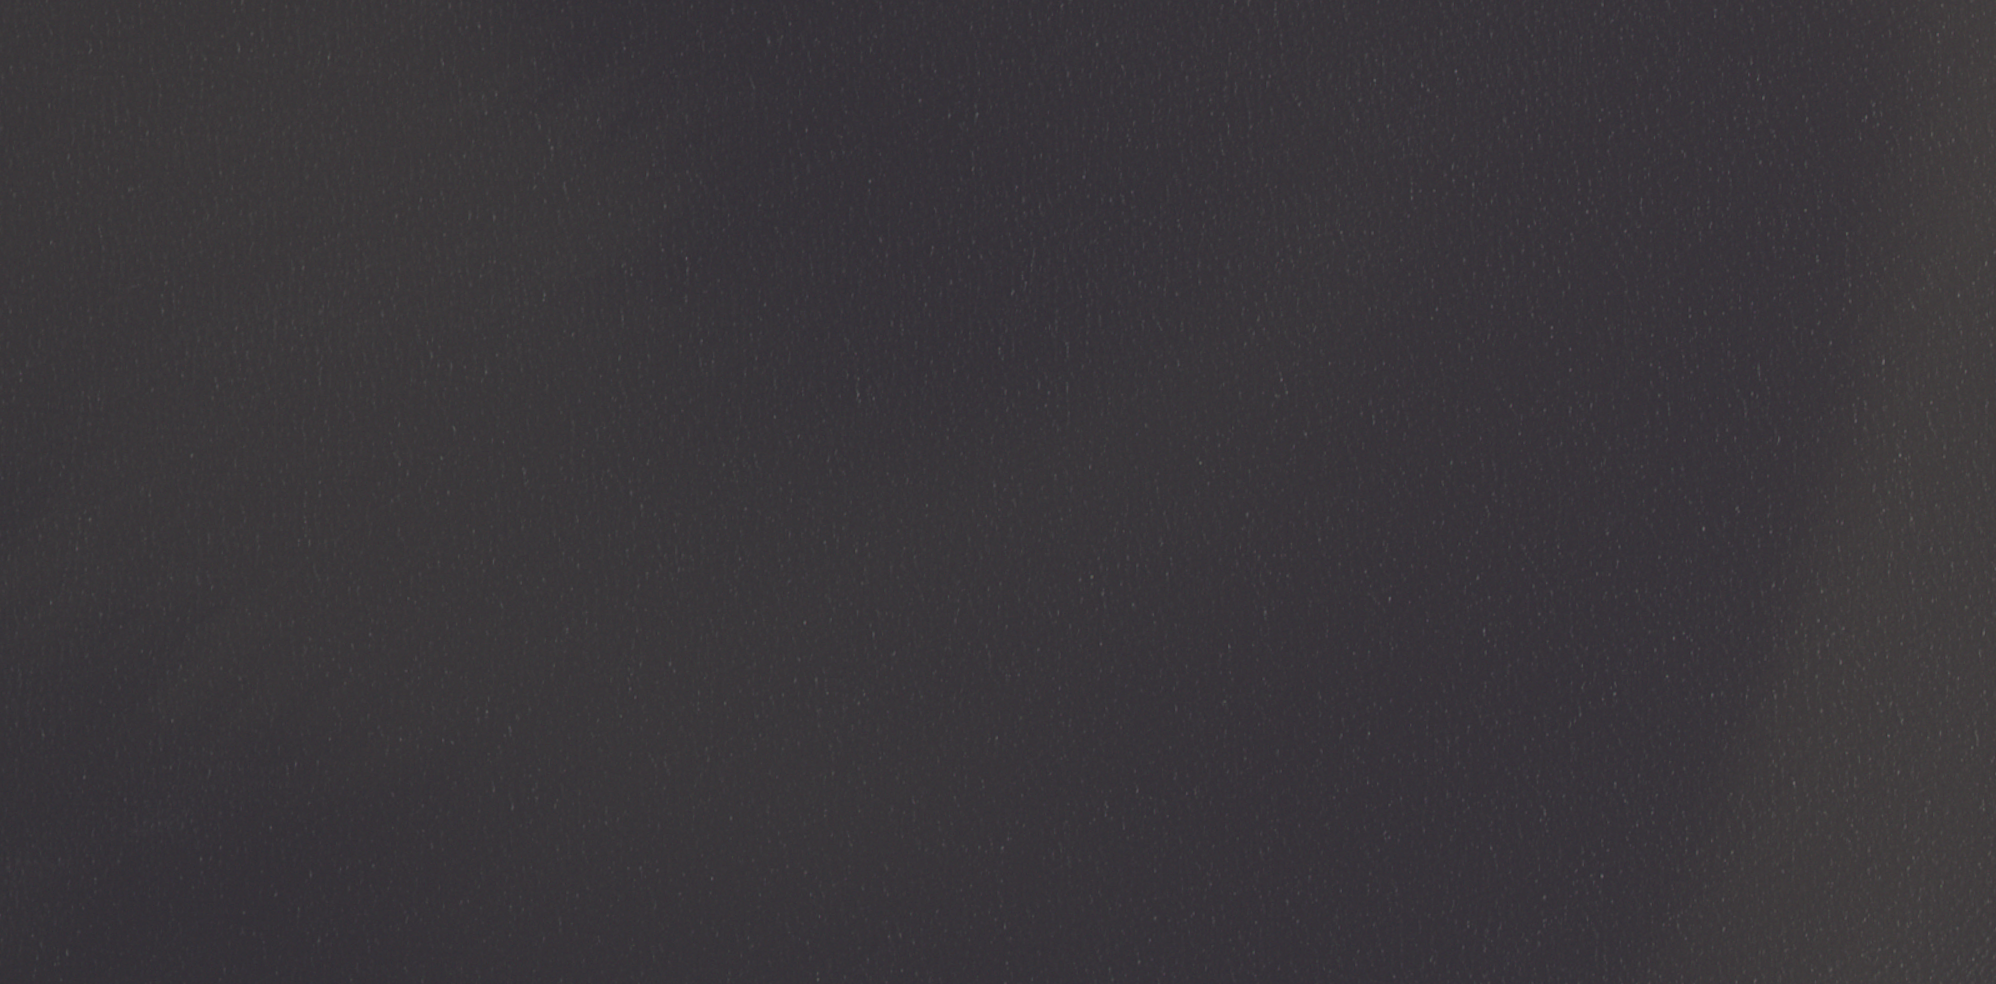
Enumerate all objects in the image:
river: (1313, 504)

